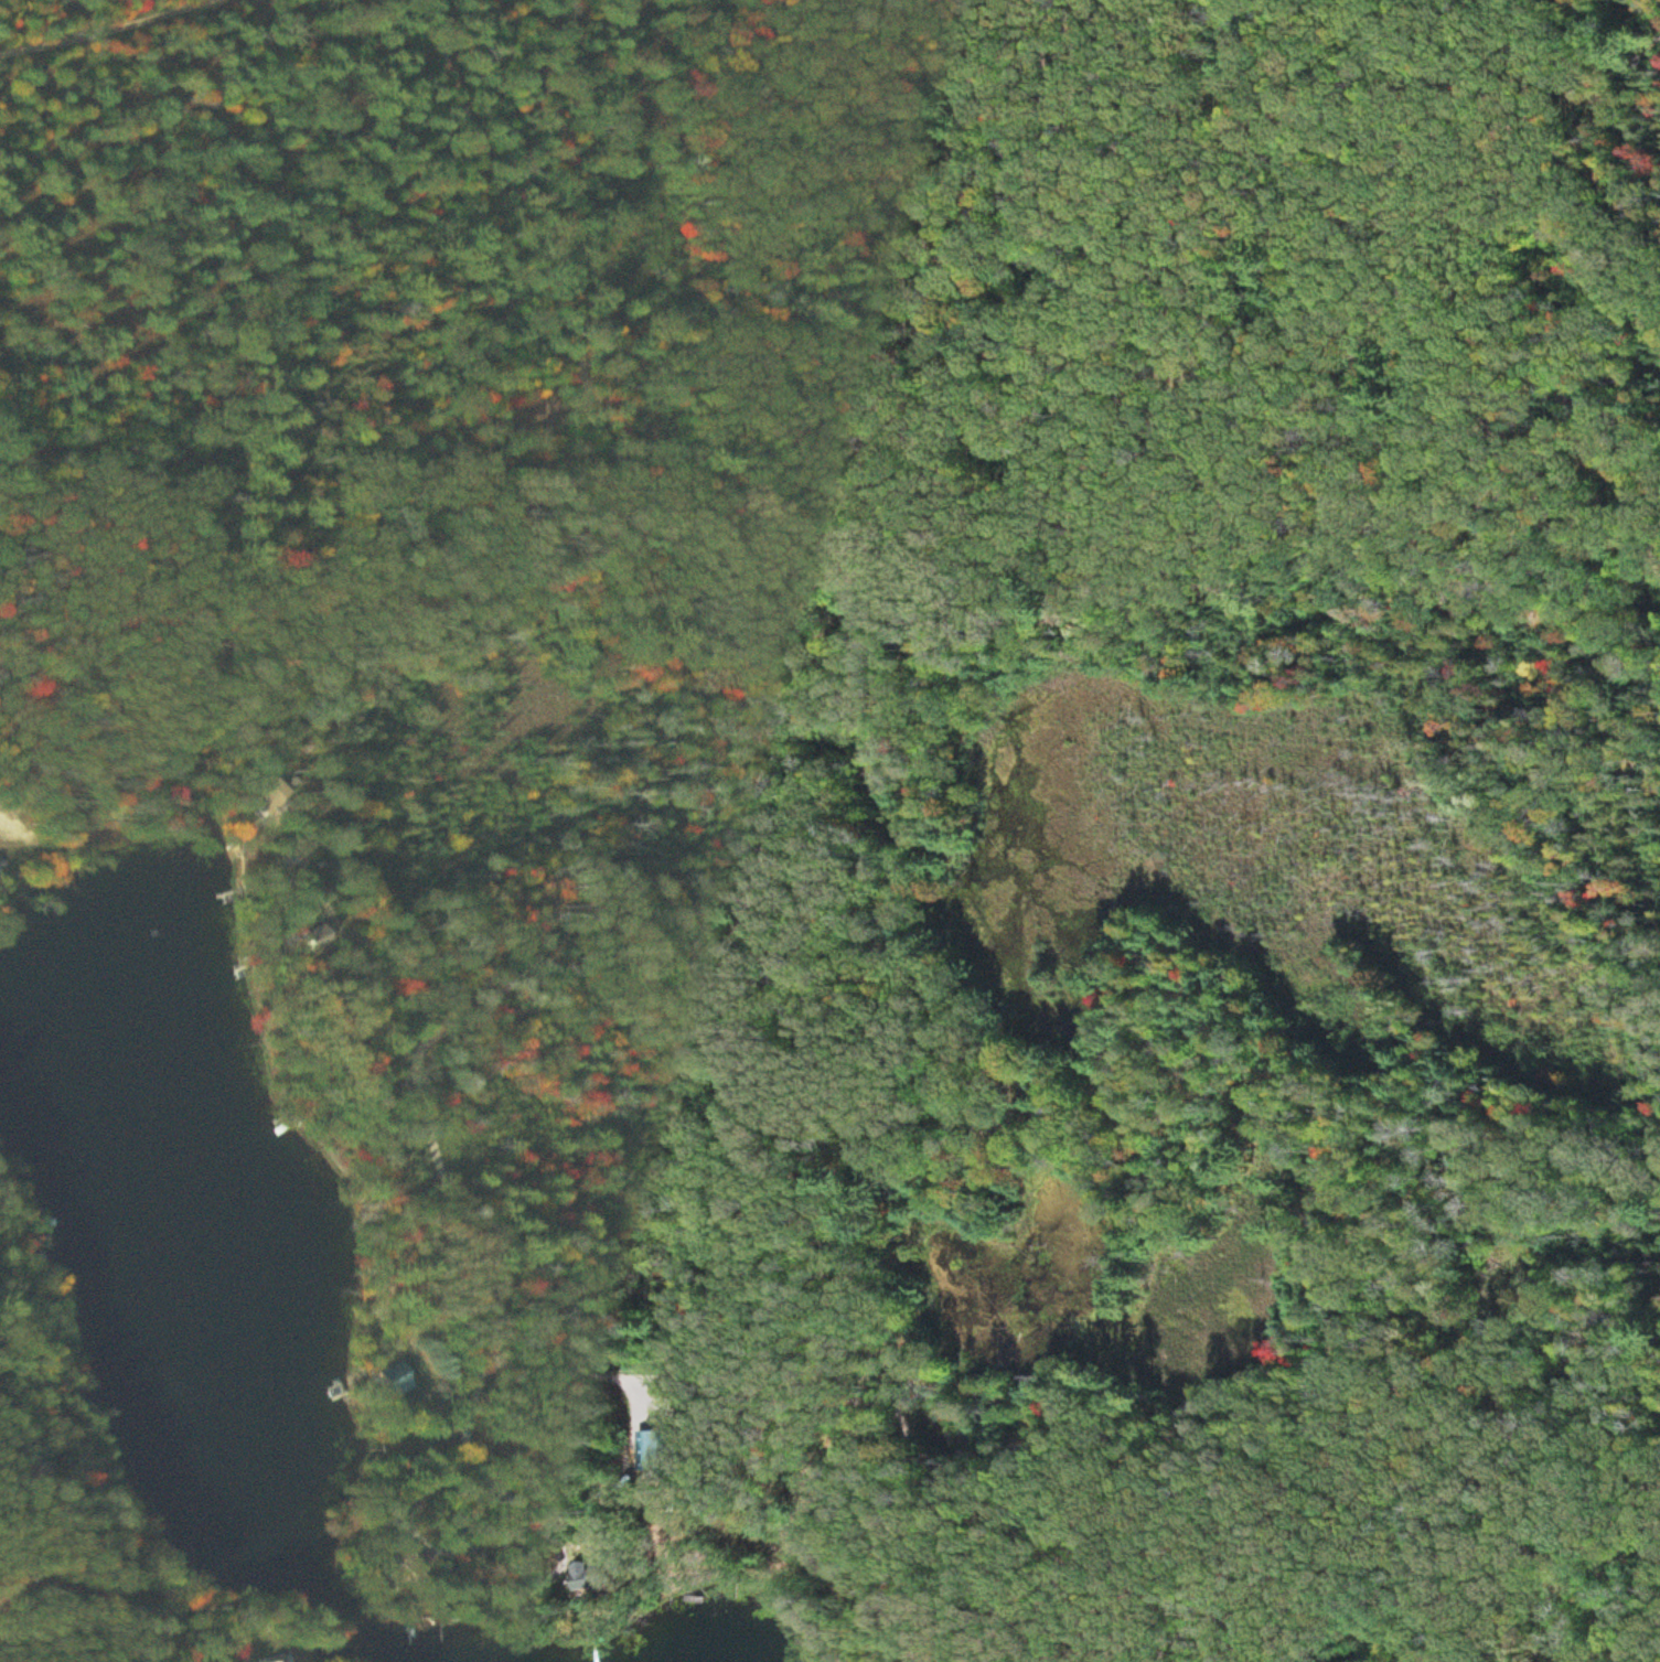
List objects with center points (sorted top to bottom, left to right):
road: (104, 25)
road: (740, 594)
building: (2, 869)
road: (386, 950)
road: (484, 1256)
building: (399, 1381)
building: (607, 1576)
building: (282, 1659)

